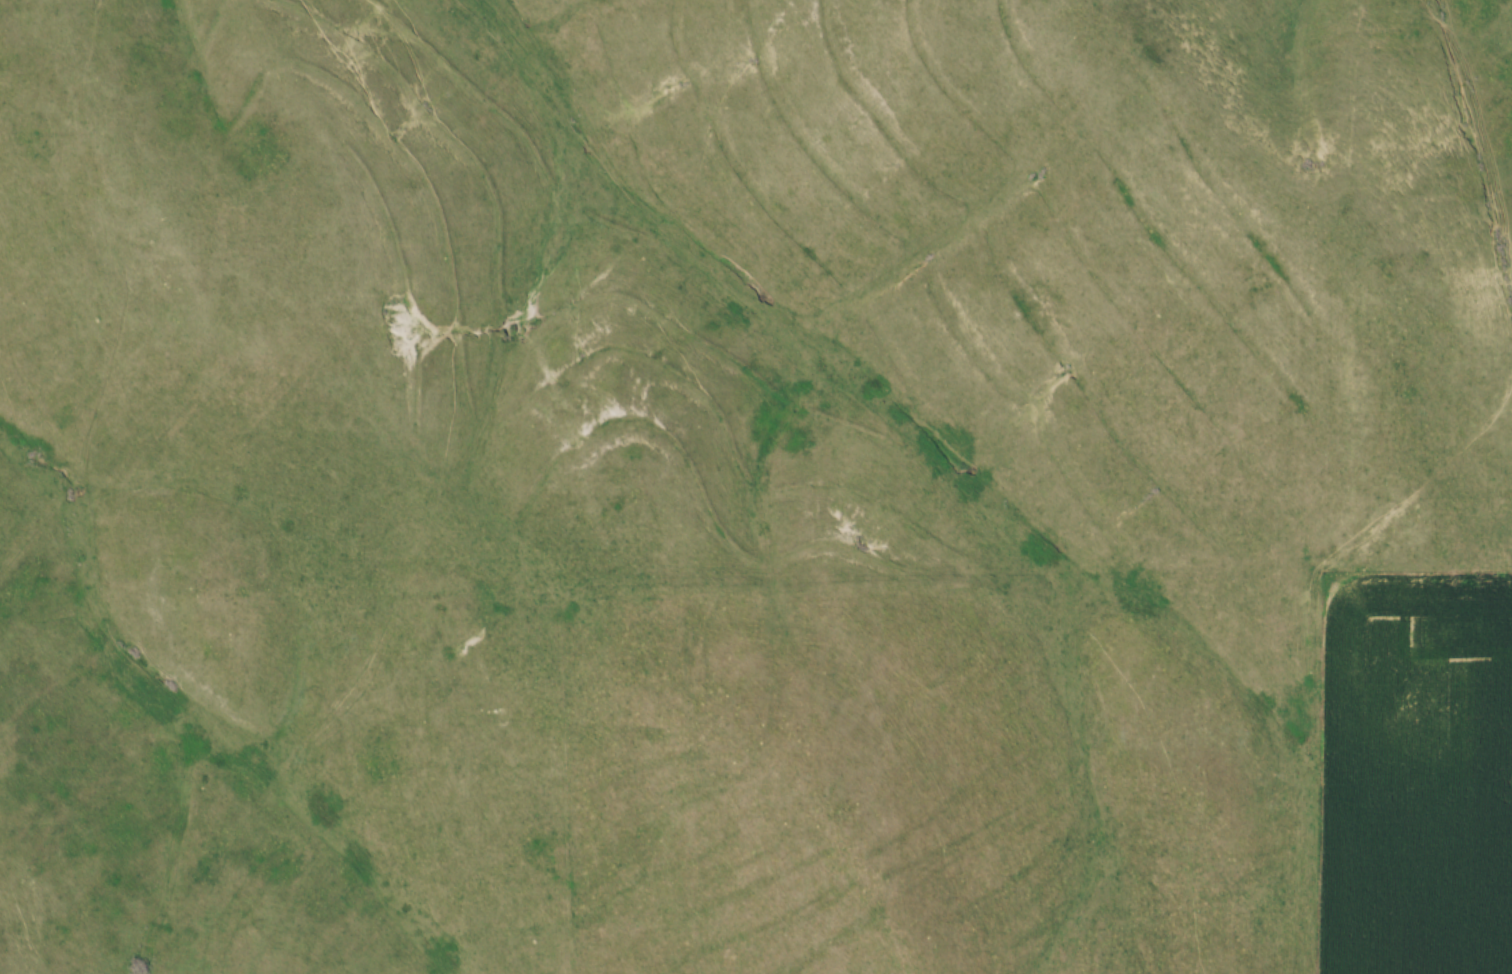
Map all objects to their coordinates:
crop: (1415, 776)

